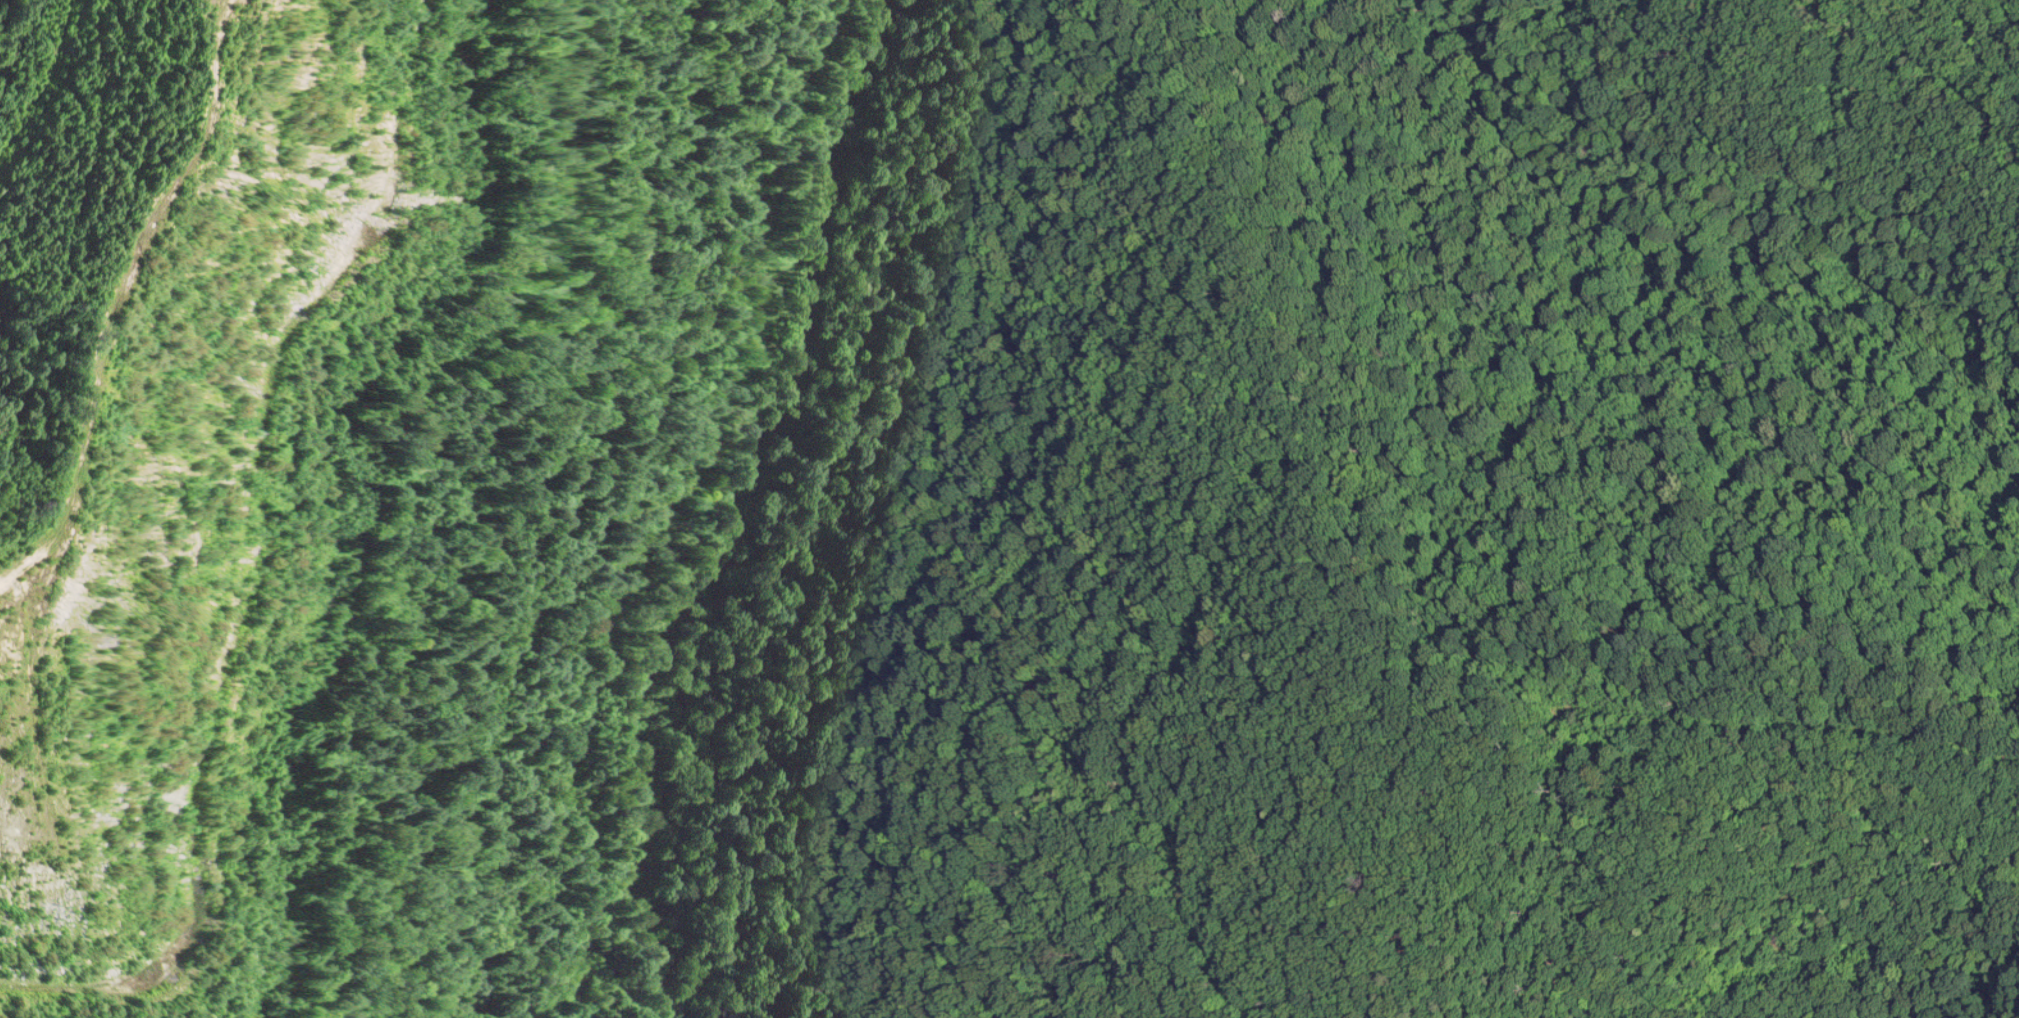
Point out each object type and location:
quarry: (1009, 509)

